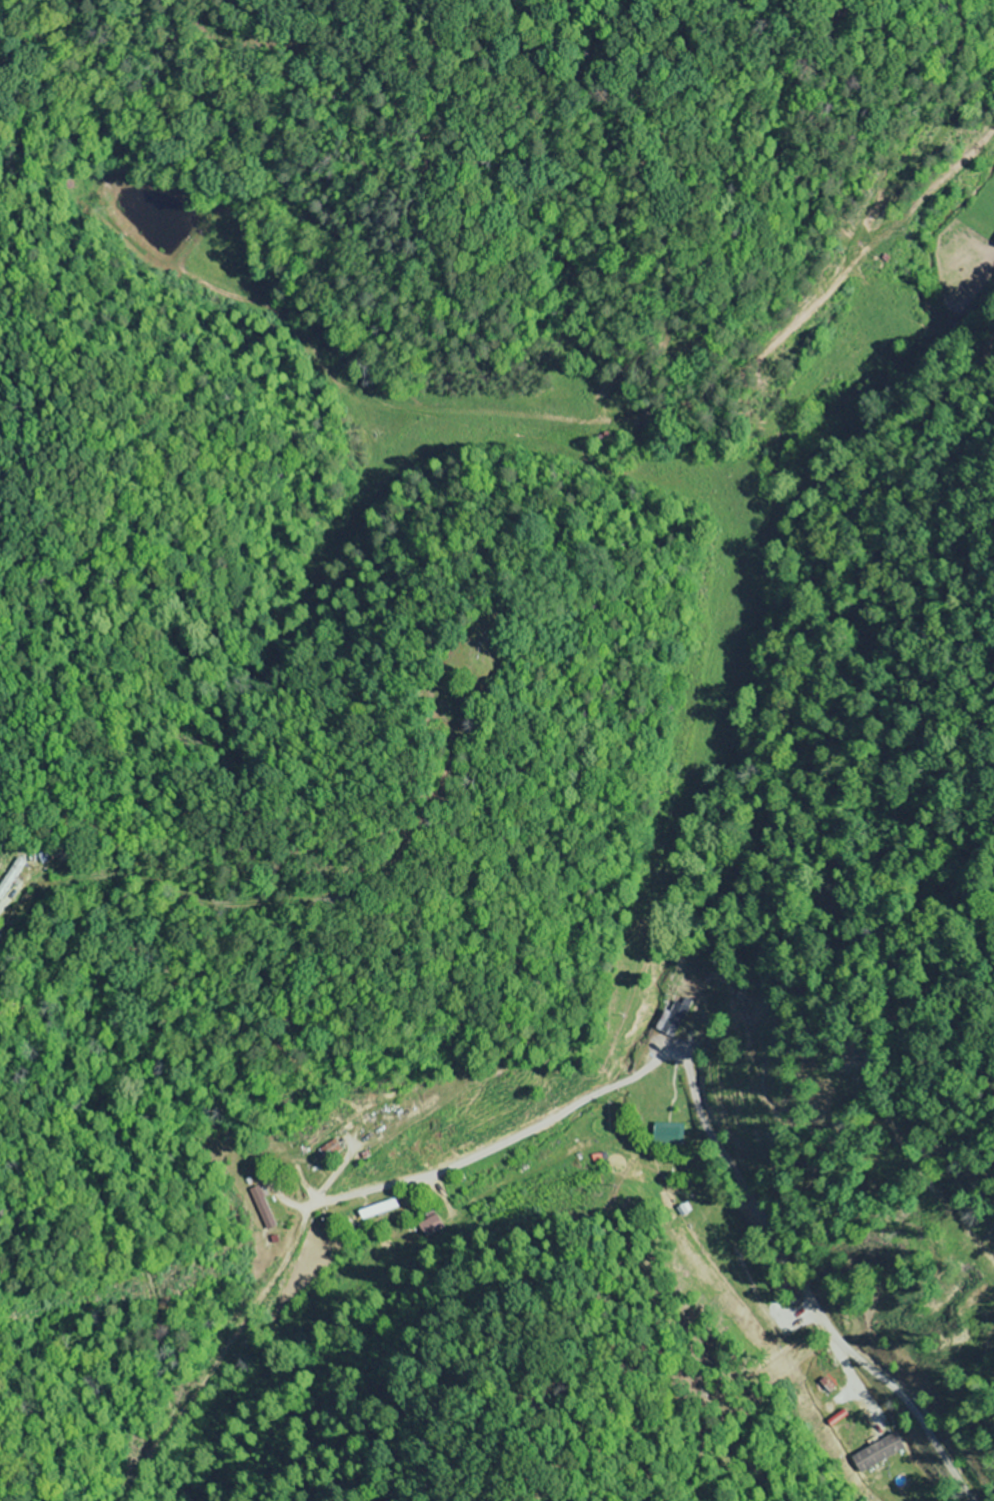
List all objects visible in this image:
road: (64, 167)
building: (667, 1134)
building: (262, 1207)
building: (428, 1227)
building: (875, 1454)

